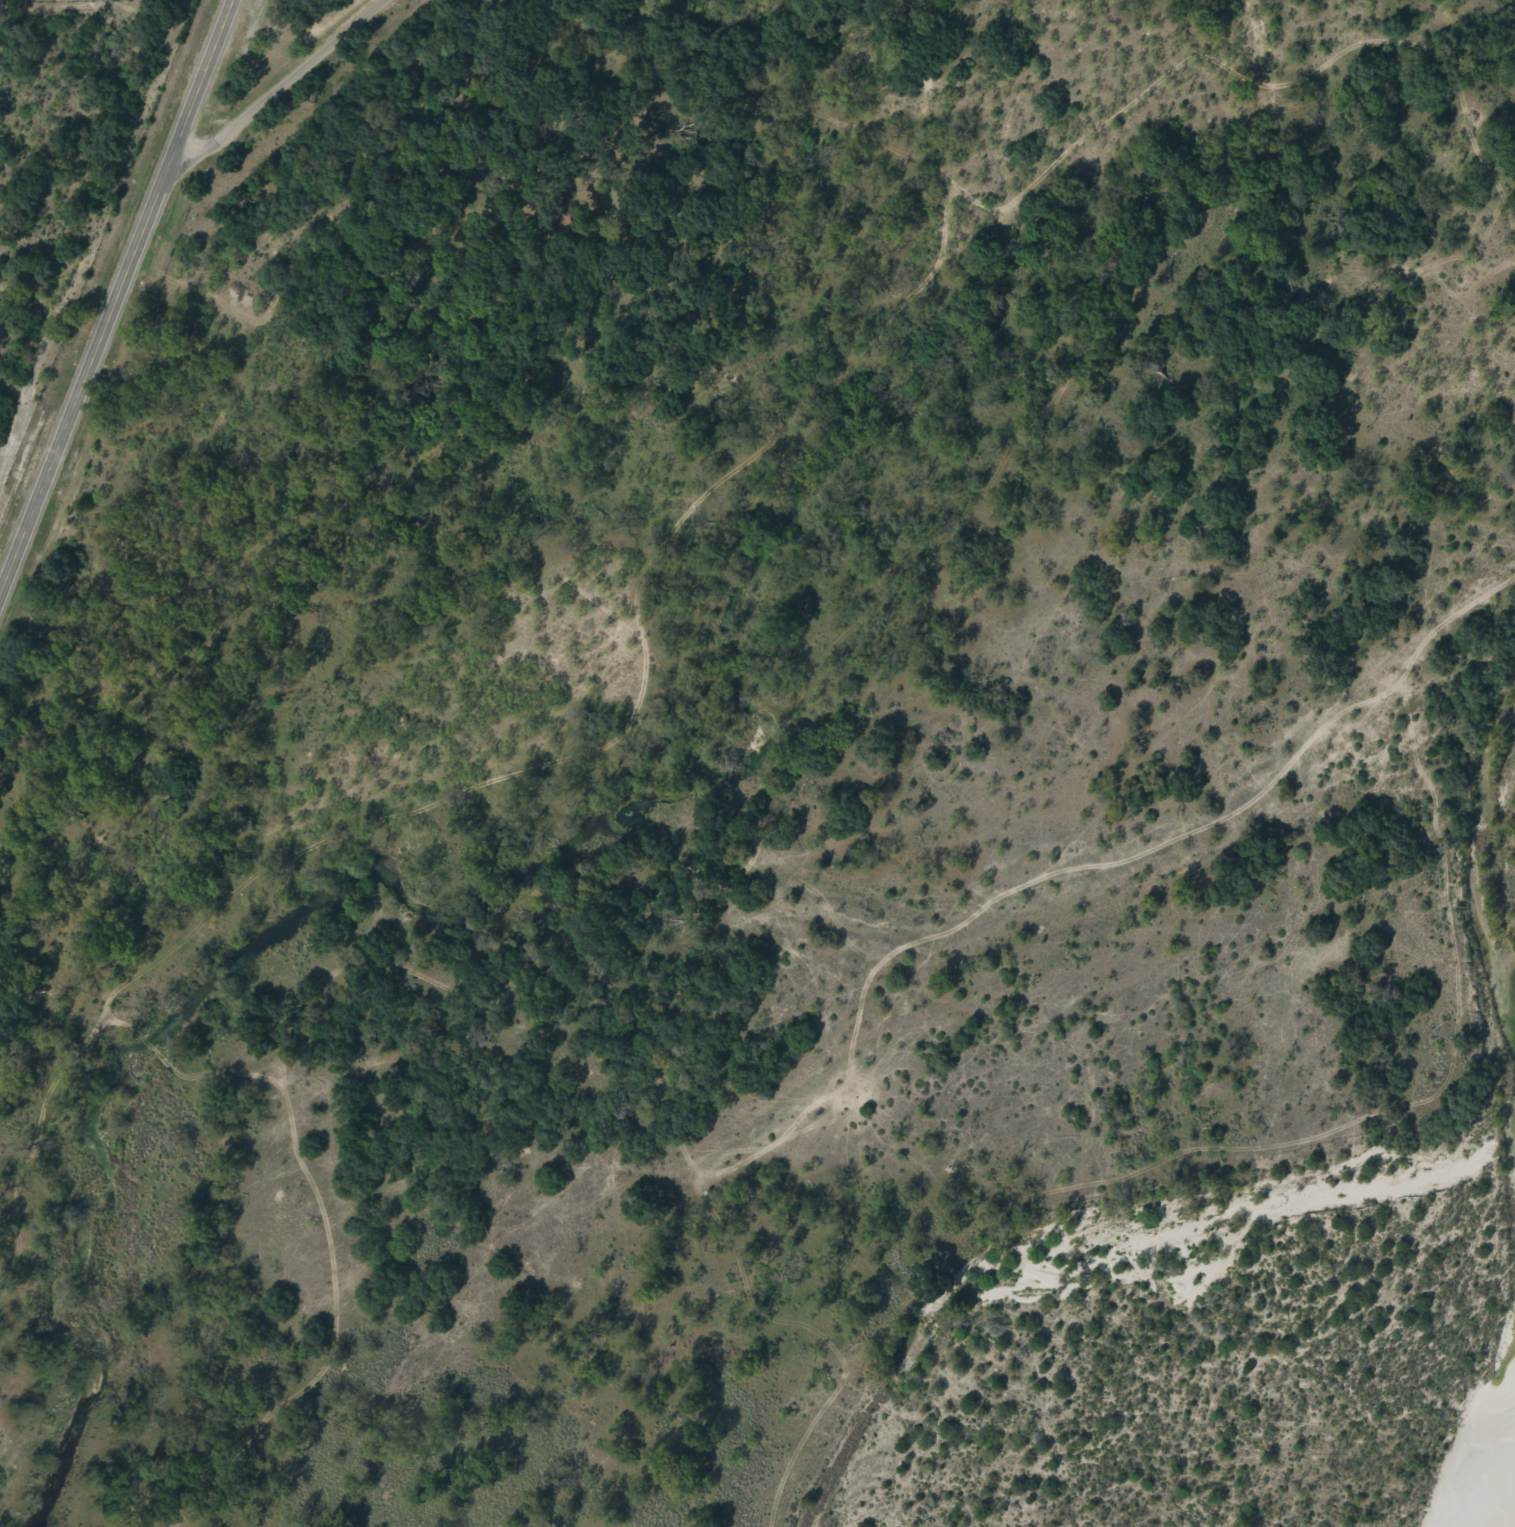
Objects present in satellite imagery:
road: (270, 95)
road: (118, 302)
river: (1491, 850)

